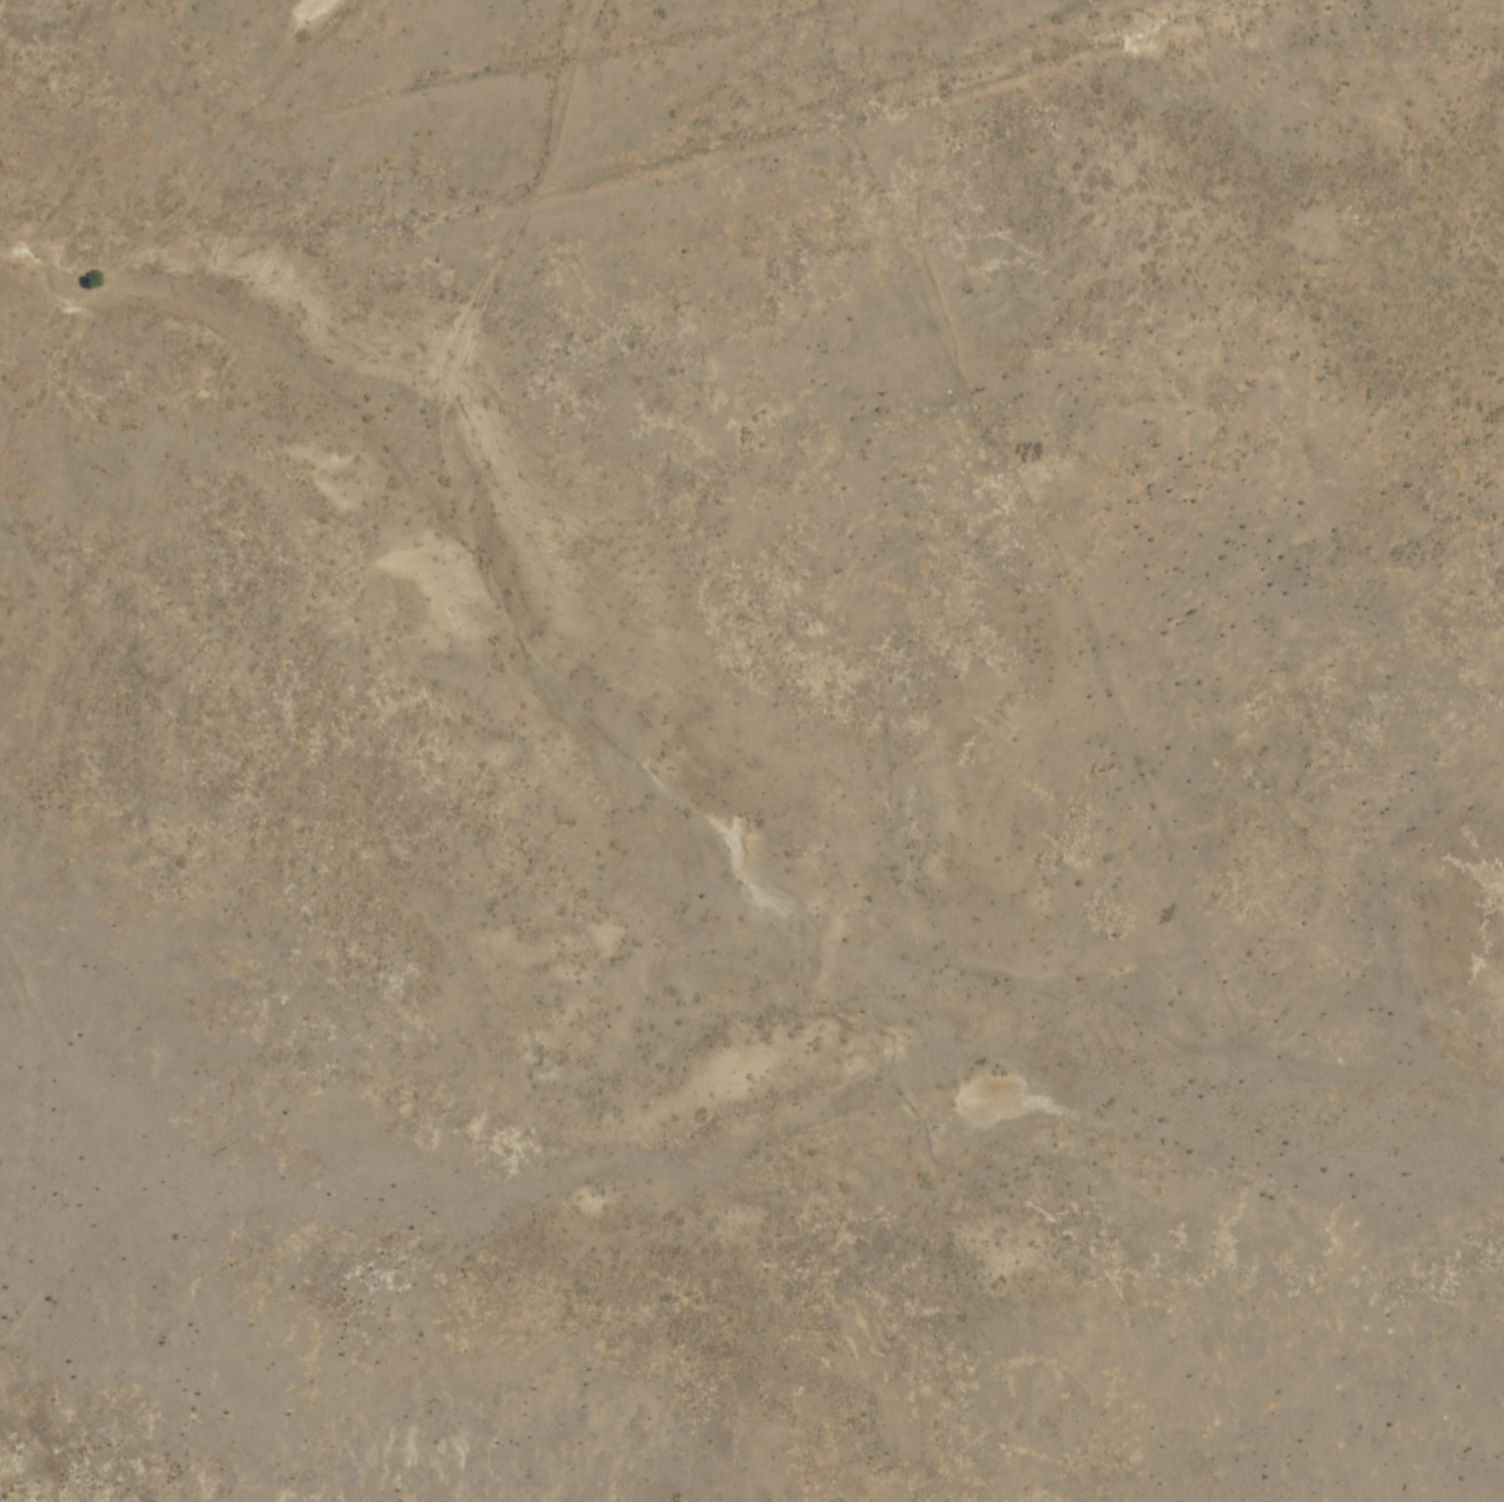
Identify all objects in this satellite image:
road: (585, 103)
road: (201, 144)
road: (582, 206)
road: (152, 801)

